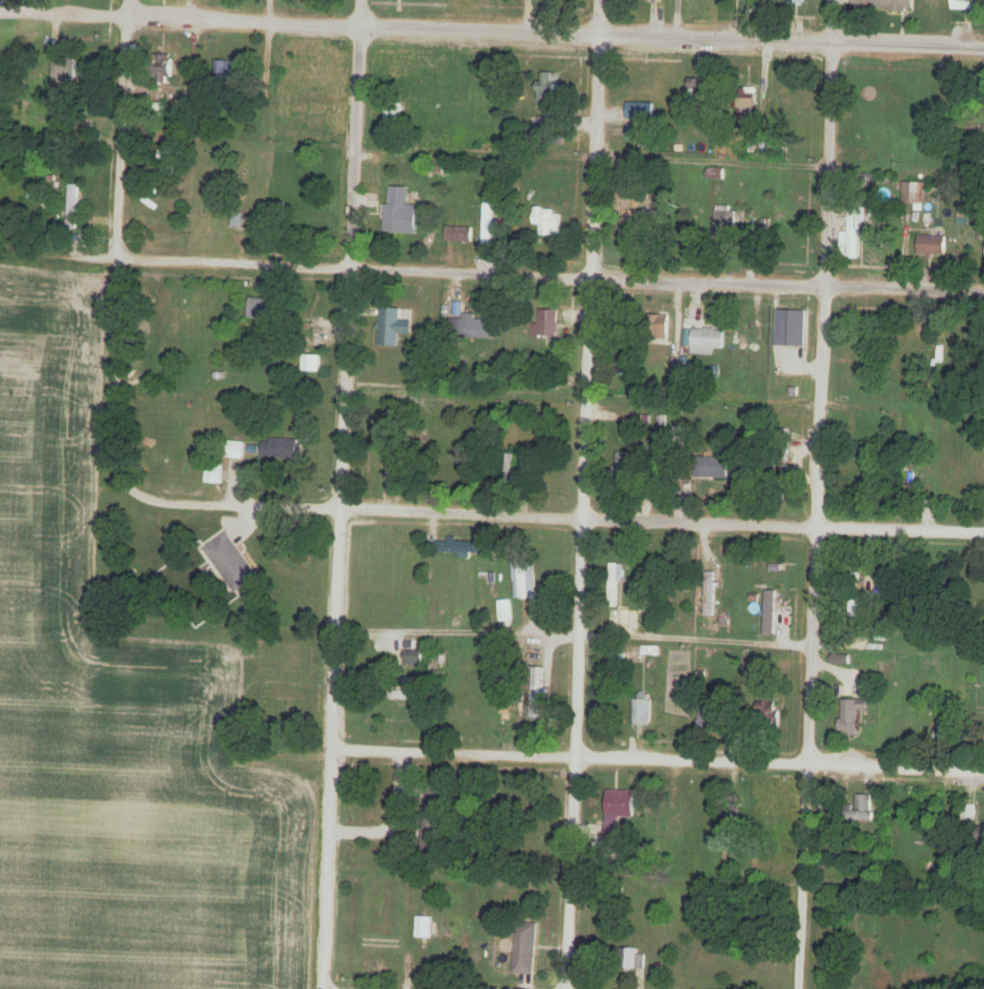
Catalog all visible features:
building: (795, 2)
building: (884, 4)
building: (966, 5)
road: (180, 22)
road: (480, 32)
road: (791, 42)
building: (63, 66)
building: (164, 70)
building: (226, 70)
building: (317, 79)
building: (697, 87)
building: (889, 98)
building: (549, 100)
building: (747, 109)
building: (641, 111)
building: (394, 113)
building: (85, 129)
road: (358, 134)
building: (167, 162)
building: (909, 187)
building: (73, 206)
building: (400, 211)
building: (238, 219)
building: (548, 221)
building: (487, 224)
building: (632, 231)
building: (853, 232)
building: (459, 233)
road: (116, 243)
building: (932, 245)
road: (63, 258)
road: (352, 269)
road: (786, 281)
building: (265, 309)
building: (546, 324)
building: (392, 326)
building: (474, 326)
building: (662, 327)
building: (790, 328)
building: (311, 363)
building: (281, 448)
building: (235, 449)
building: (391, 464)
building: (627, 467)
building: (710, 467)
building: (512, 471)
building: (864, 472)
building: (213, 473)
road: (581, 494)
road: (817, 494)
road: (350, 509)
road: (782, 524)
building: (460, 548)
building: (230, 562)
building: (522, 576)
building: (614, 585)
building: (709, 593)
building: (852, 604)
building: (652, 607)
road: (333, 629)
building: (413, 657)
building: (405, 695)
building: (536, 696)
building: (642, 708)
building: (767, 710)
building: (293, 715)
building: (851, 716)
building: (708, 718)
building: (946, 726)
road: (451, 755)
road: (778, 764)
building: (620, 806)
building: (857, 811)
building: (970, 813)
building: (433, 819)
building: (733, 823)
building: (767, 823)
building: (974, 834)
building: (423, 927)
building: (525, 948)
building: (632, 960)

